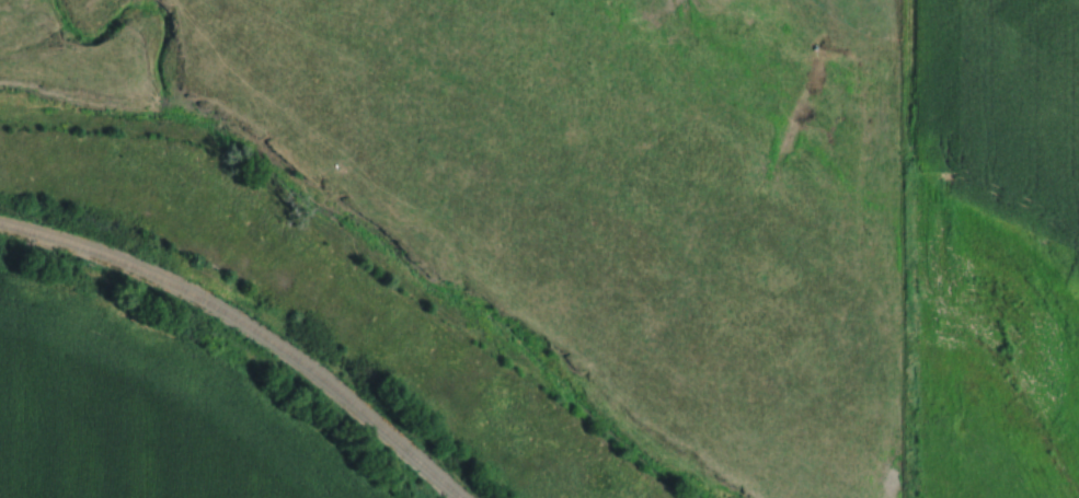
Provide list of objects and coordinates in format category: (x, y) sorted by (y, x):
river: (310, 239)
river: (370, 250)
railway: (245, 329)

